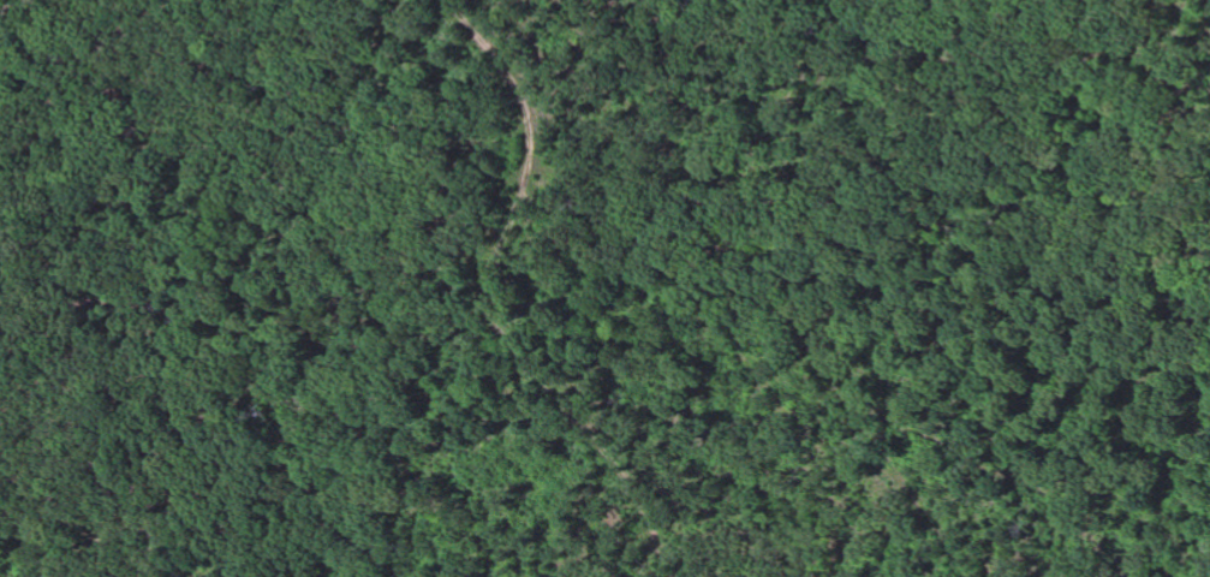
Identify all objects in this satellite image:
road: (18, 6)

